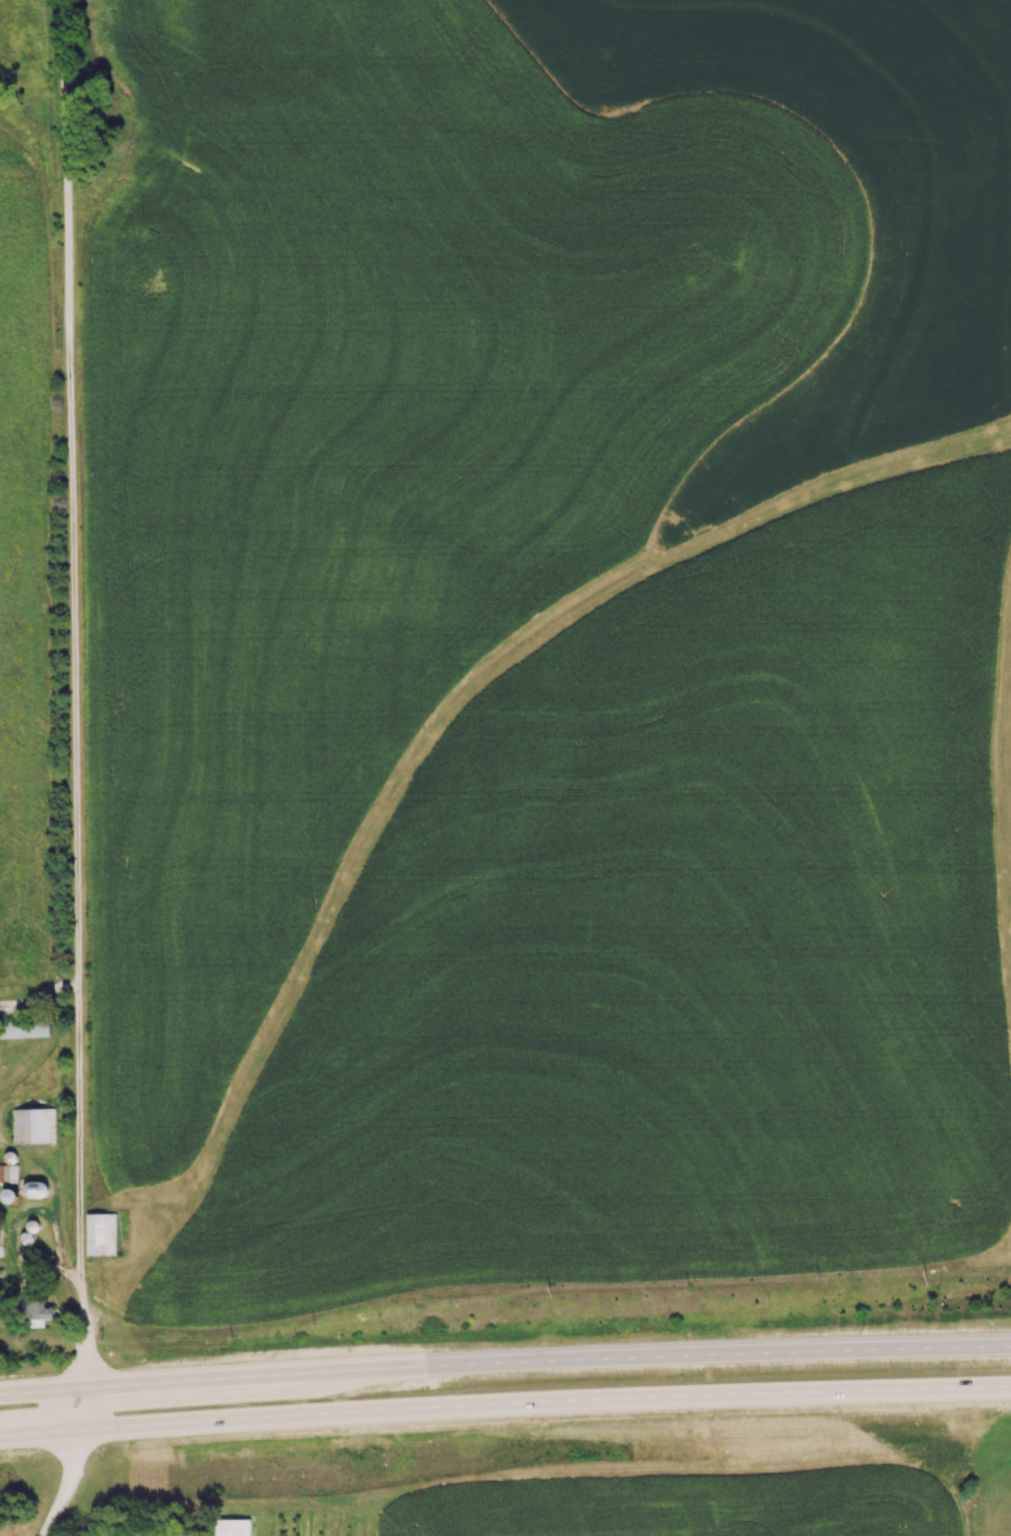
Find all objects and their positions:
road: (442, 713)
road: (74, 718)
road: (1006, 767)
building: (24, 1028)
building: (33, 1125)
building: (8, 1172)
building: (101, 1233)
building: (1, 1241)
building: (38, 1313)
road: (505, 1367)
road: (505, 1407)
crop: (989, 1476)
road: (70, 1488)
crop: (706, 1492)
building: (233, 1527)

